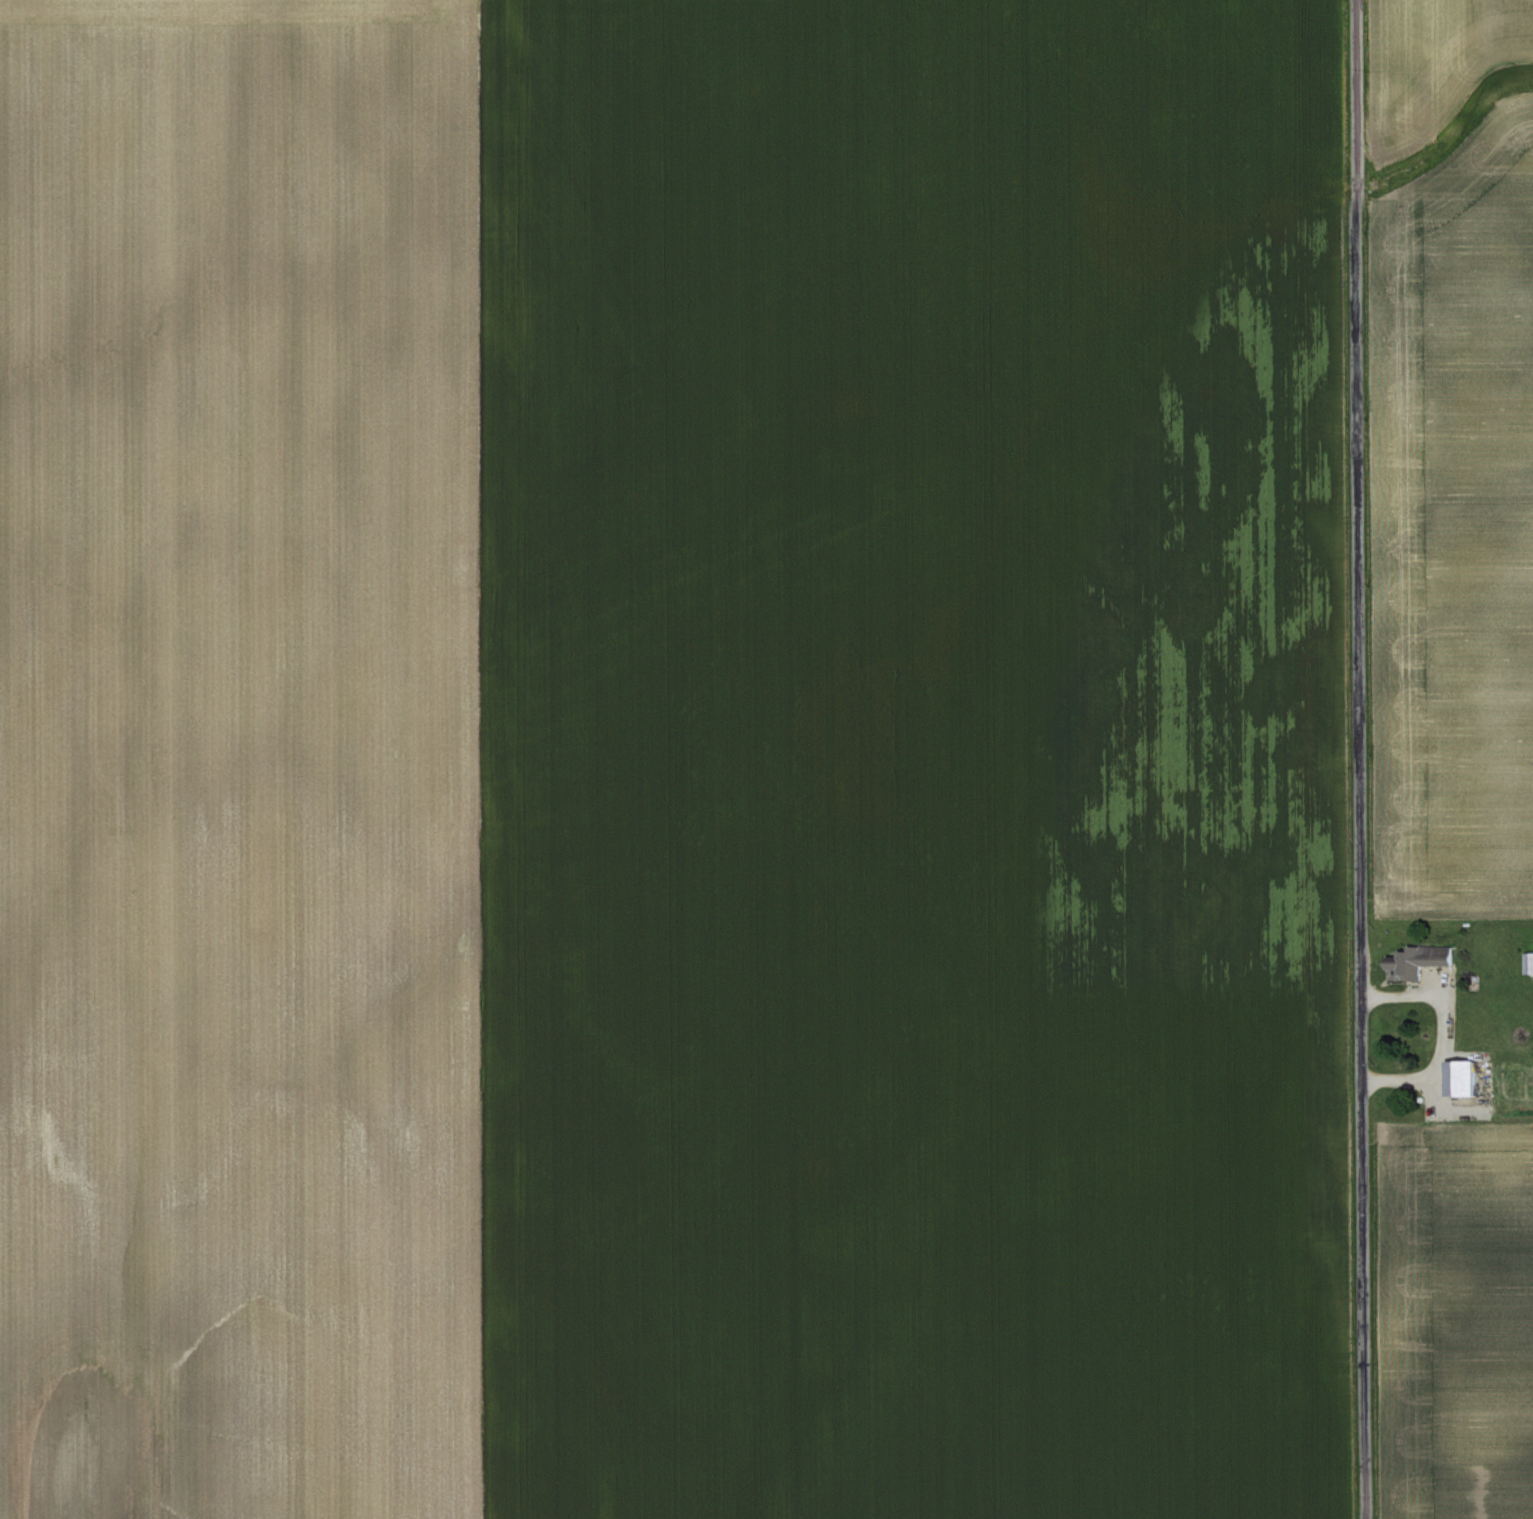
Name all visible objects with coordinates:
road: (1356, 759)
building: (1527, 960)
road: (1442, 1031)
building: (1457, 1076)

